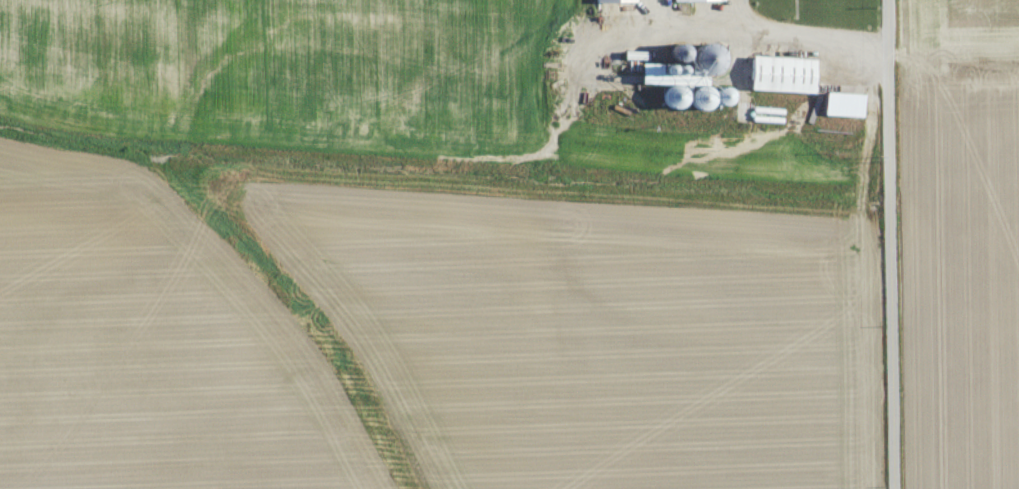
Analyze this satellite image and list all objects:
building: (603, 0)
road: (751, 36)
building: (783, 70)
building: (847, 102)
road: (887, 244)

